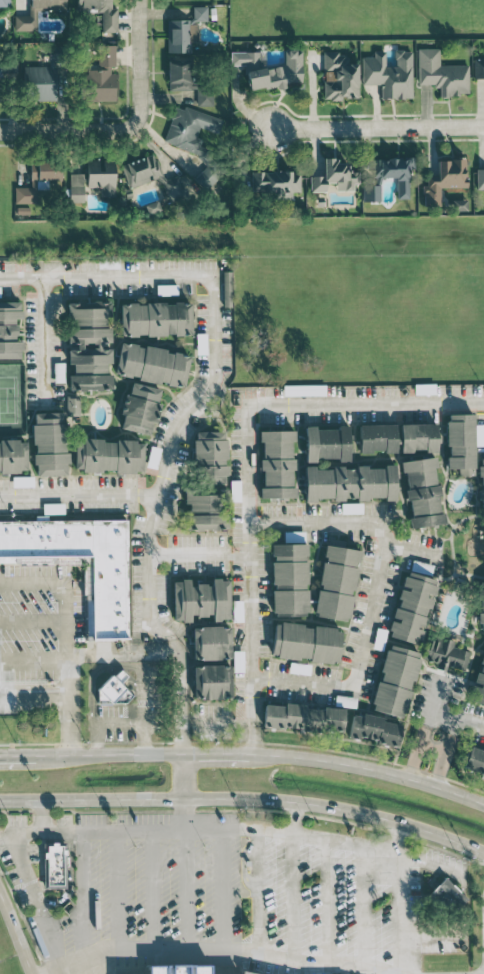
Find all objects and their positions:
building: (4, 3)
building: (36, 13)
building: (109, 20)
building: (185, 31)
road: (137, 62)
building: (7, 67)
building: (478, 68)
building: (272, 70)
building: (180, 73)
building: (441, 73)
building: (102, 74)
building: (389, 74)
building: (339, 76)
building: (42, 81)
building: (205, 96)
road: (370, 125)
road: (66, 128)
building: (190, 130)
building: (141, 170)
building: (101, 176)
building: (334, 176)
building: (480, 178)
building: (205, 179)
building: (444, 179)
building: (38, 180)
building: (402, 181)
building: (276, 182)
building: (76, 187)
building: (174, 188)
building: (461, 205)
building: (152, 207)
building: (227, 288)
building: (165, 289)
building: (155, 319)
building: (9, 330)
road: (44, 343)
building: (89, 345)
building: (152, 364)
road: (215, 364)
building: (424, 388)
building: (304, 390)
building: (73, 406)
building: (141, 408)
building: (479, 435)
building: (377, 438)
road: (246, 441)
building: (50, 443)
building: (326, 443)
building: (460, 443)
building: (108, 455)
building: (13, 456)
building: (210, 457)
building: (277, 464)
building: (421, 475)
building: (481, 480)
building: (349, 483)
building: (351, 508)
building: (202, 511)
road: (410, 552)
road: (197, 554)
building: (289, 579)
road: (146, 580)
road: (32, 582)
building: (336, 582)
road: (373, 592)
building: (105, 599)
building: (201, 599)
building: (481, 604)
building: (412, 607)
road: (32, 621)
building: (306, 642)
building: (211, 643)
building: (446, 653)
road: (172, 654)
road: (32, 659)
road: (65, 668)
building: (395, 680)
building: (212, 681)
building: (480, 683)
building: (116, 689)
road: (32, 698)
road: (429, 706)
building: (304, 717)
road: (120, 722)
road: (224, 722)
road: (470, 722)
building: (374, 729)
road: (251, 736)
road: (417, 743)
road: (432, 745)
road: (444, 751)
road: (106, 755)
road: (216, 755)
road: (16, 756)
building: (474, 761)
road: (370, 770)
road: (181, 777)
road: (19, 800)
road: (265, 800)
road: (39, 815)
road: (183, 815)
road: (292, 818)
road: (28, 831)
road: (392, 837)
building: (54, 866)
road: (114, 889)
road: (150, 889)
road: (184, 889)
road: (219, 889)
road: (255, 891)
road: (83, 894)
road: (291, 896)
building: (446, 896)
road: (460, 899)
road: (327, 900)
road: (363, 903)
road: (15, 937)
road: (49, 969)
road: (63, 969)
building: (179, 969)

